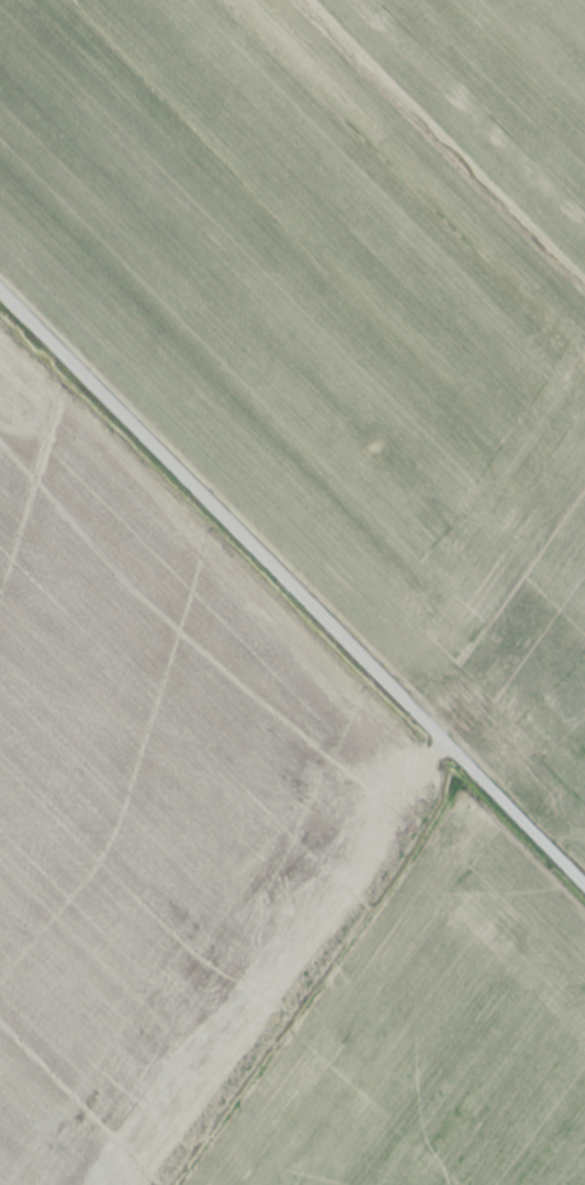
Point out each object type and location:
road: (292, 586)

